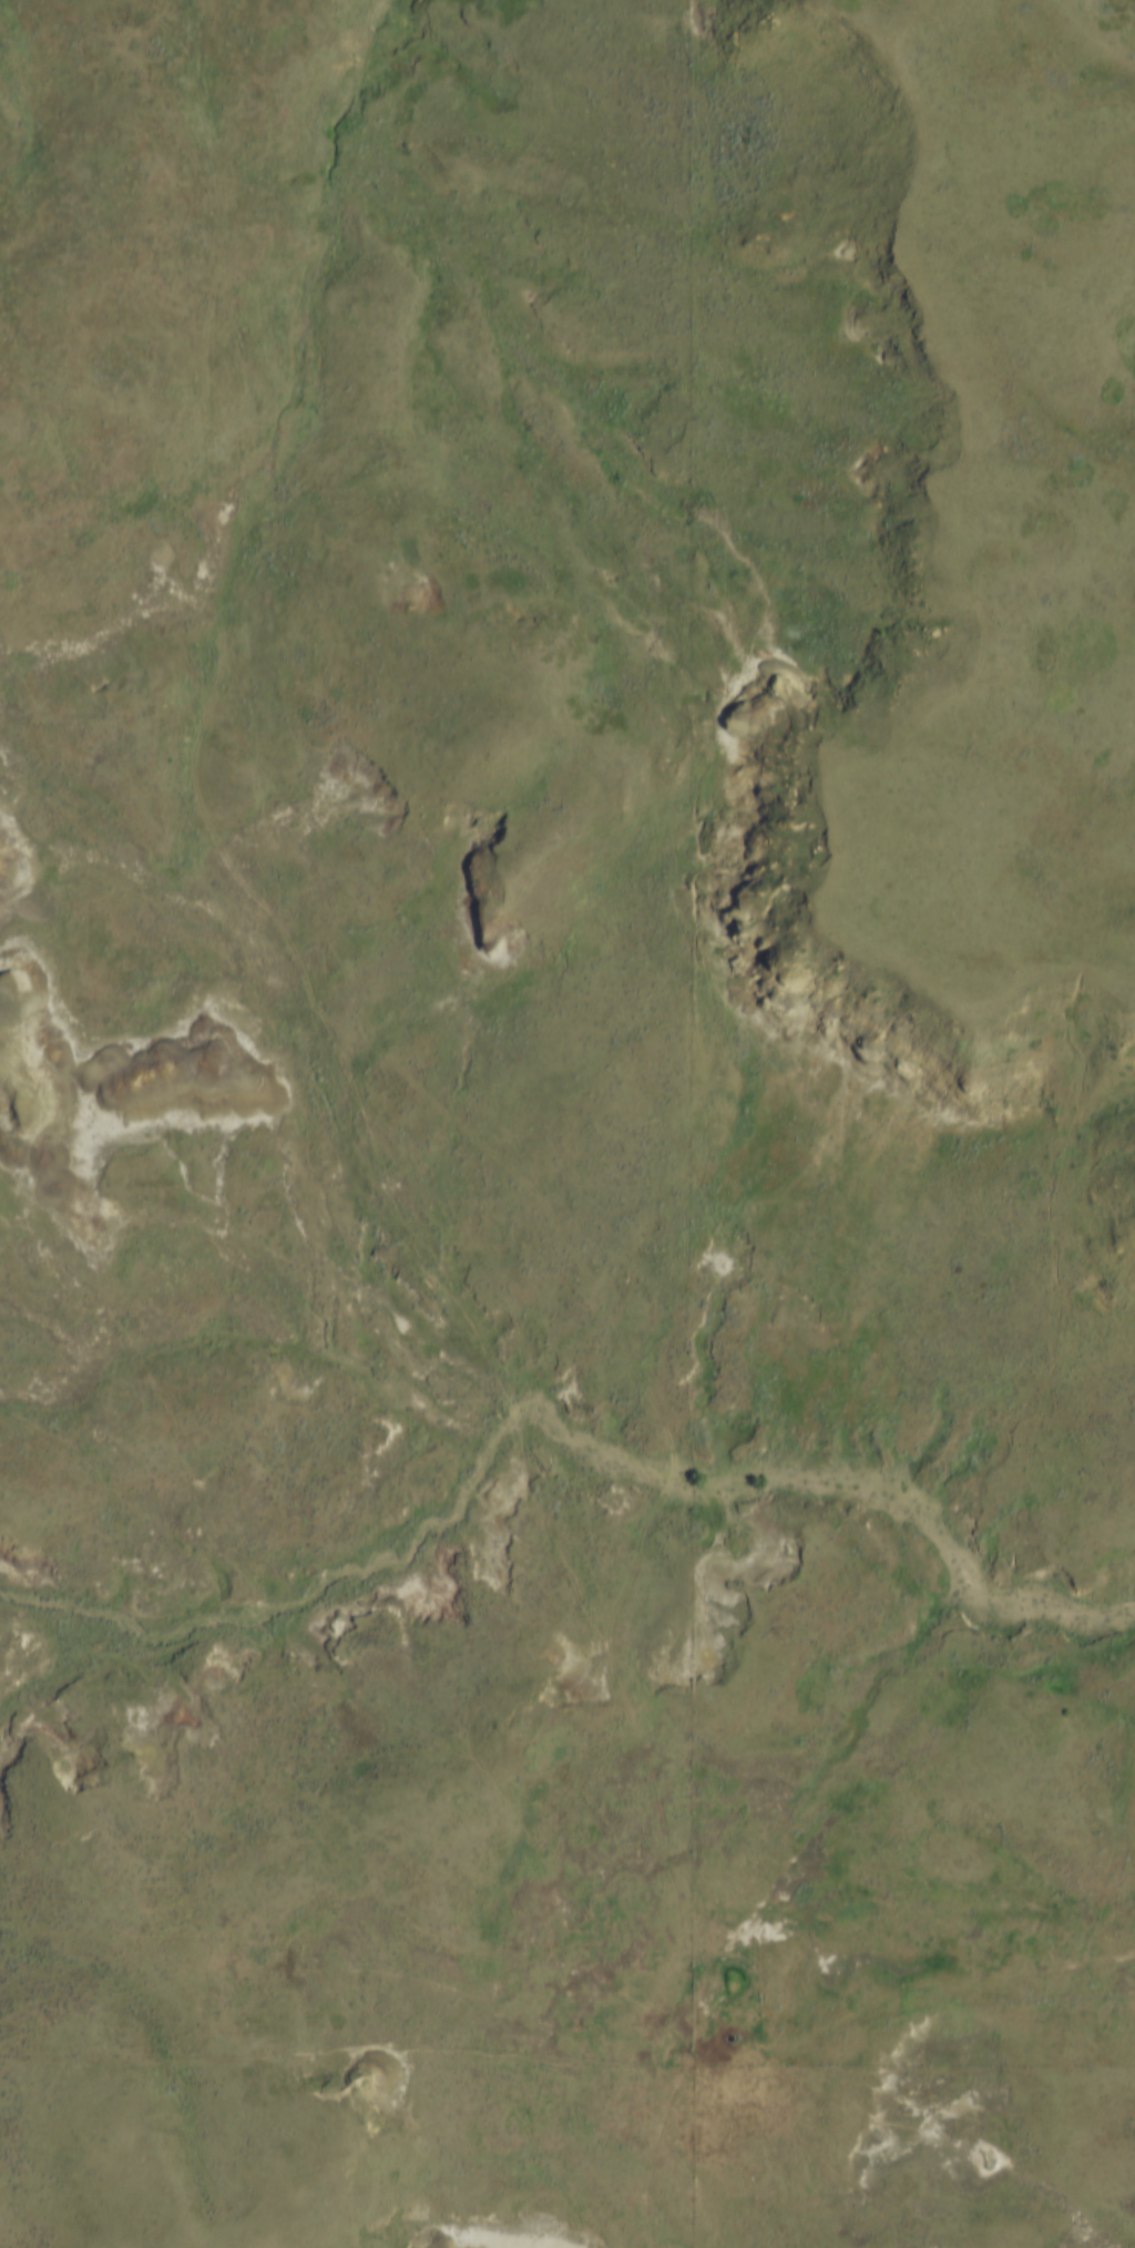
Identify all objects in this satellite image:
road: (845, 2022)
road: (794, 2147)

